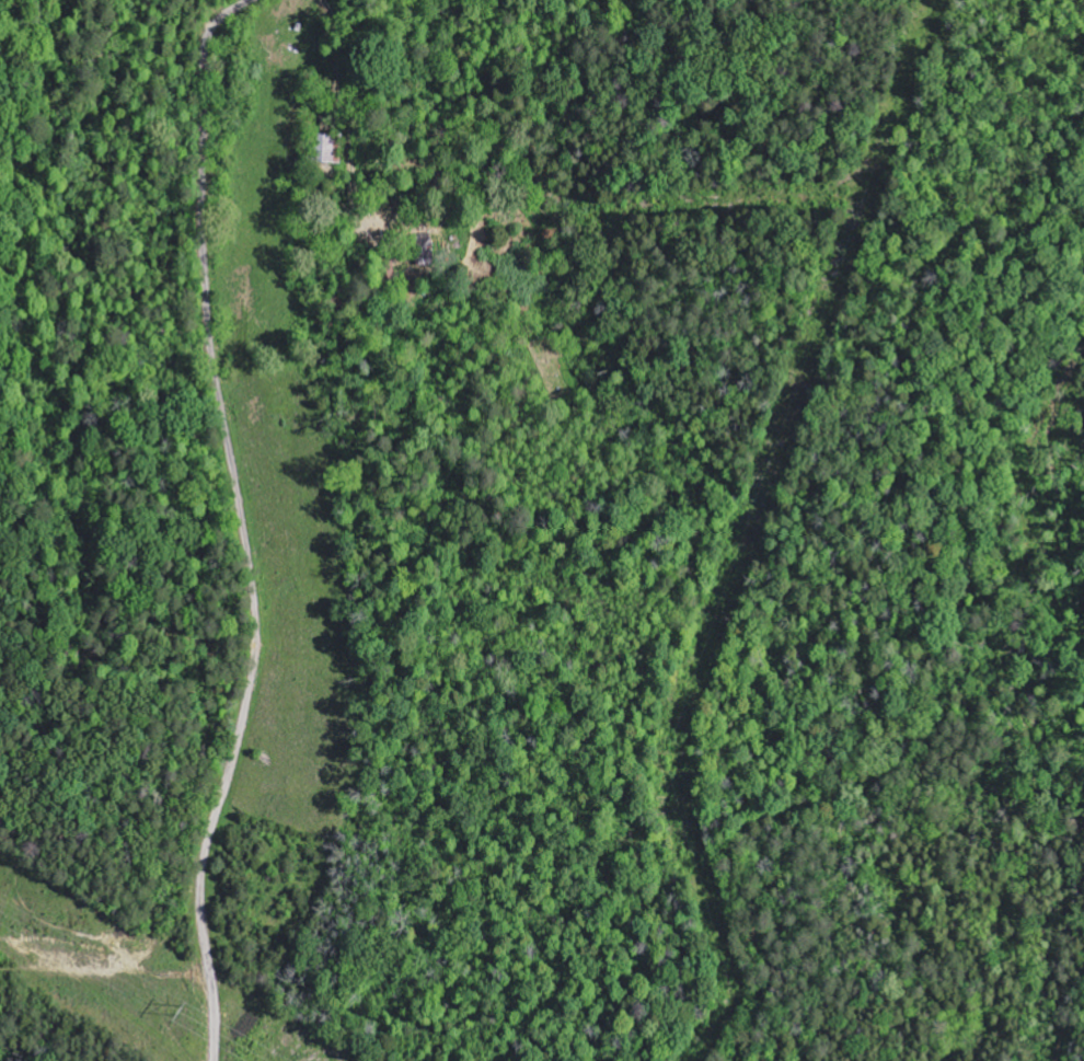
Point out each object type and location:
road: (638, 518)
power tower: (203, 1004)

